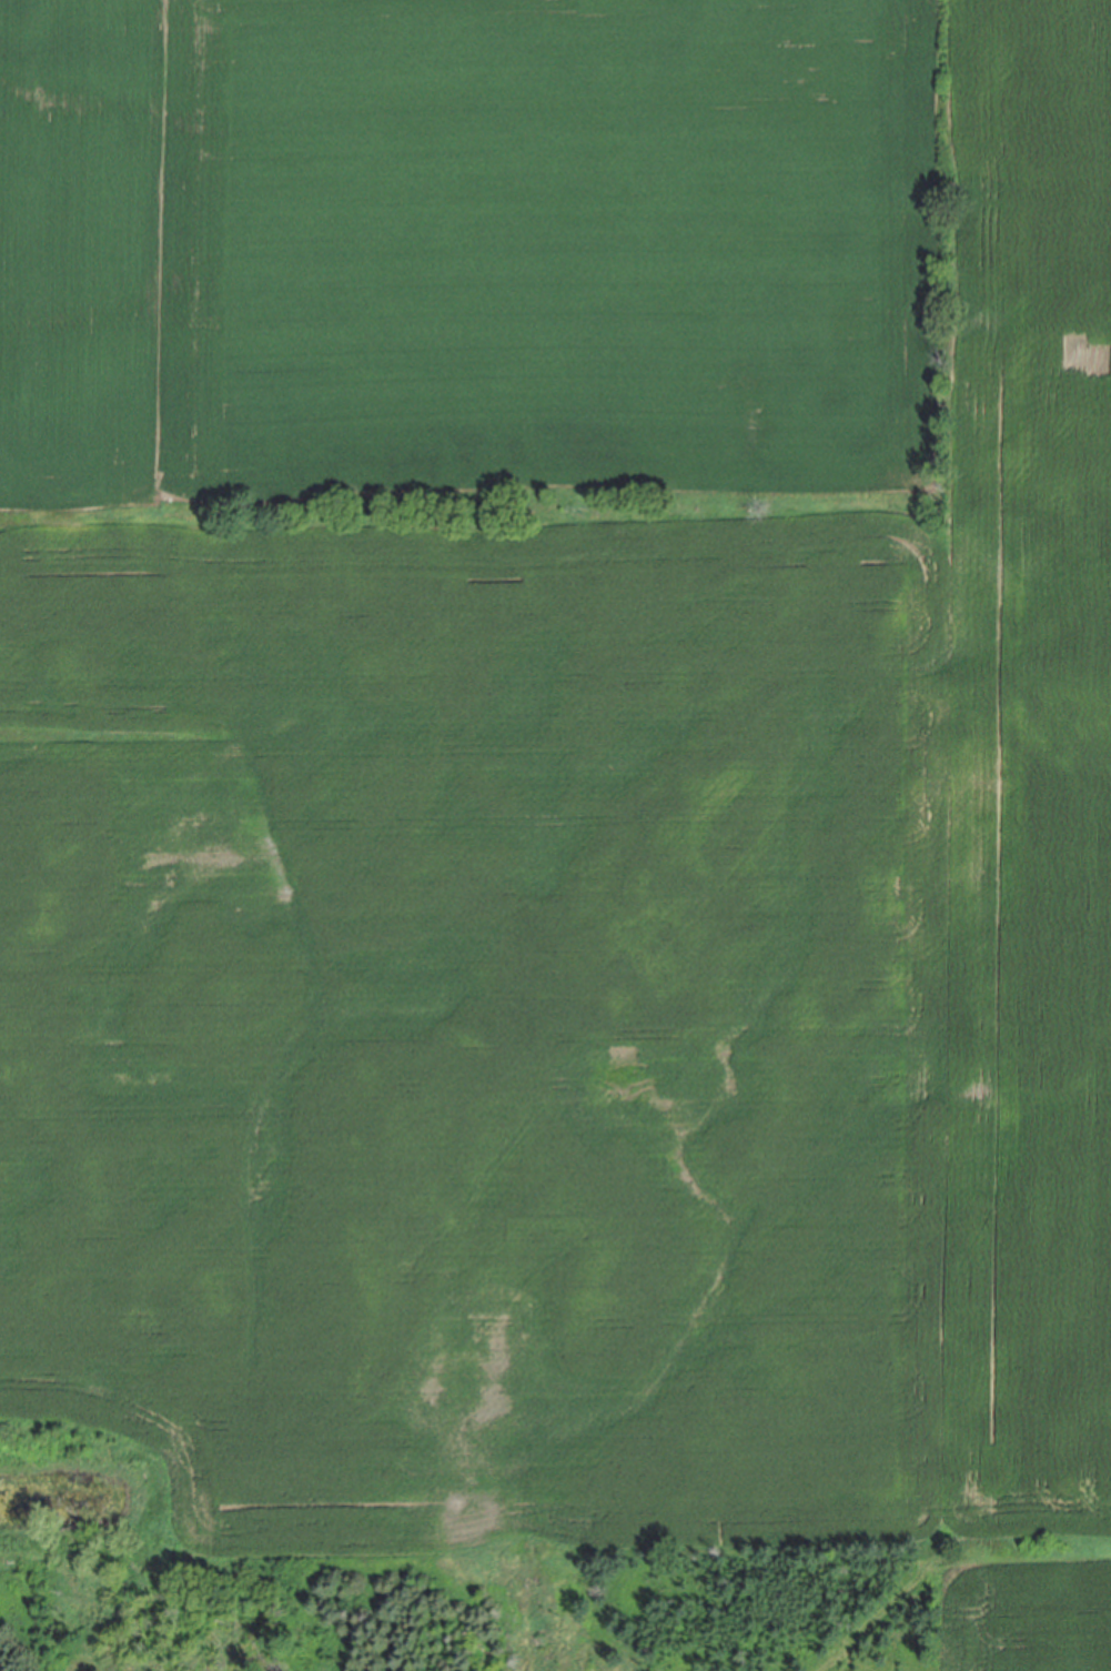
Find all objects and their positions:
building: (42, 1669)

